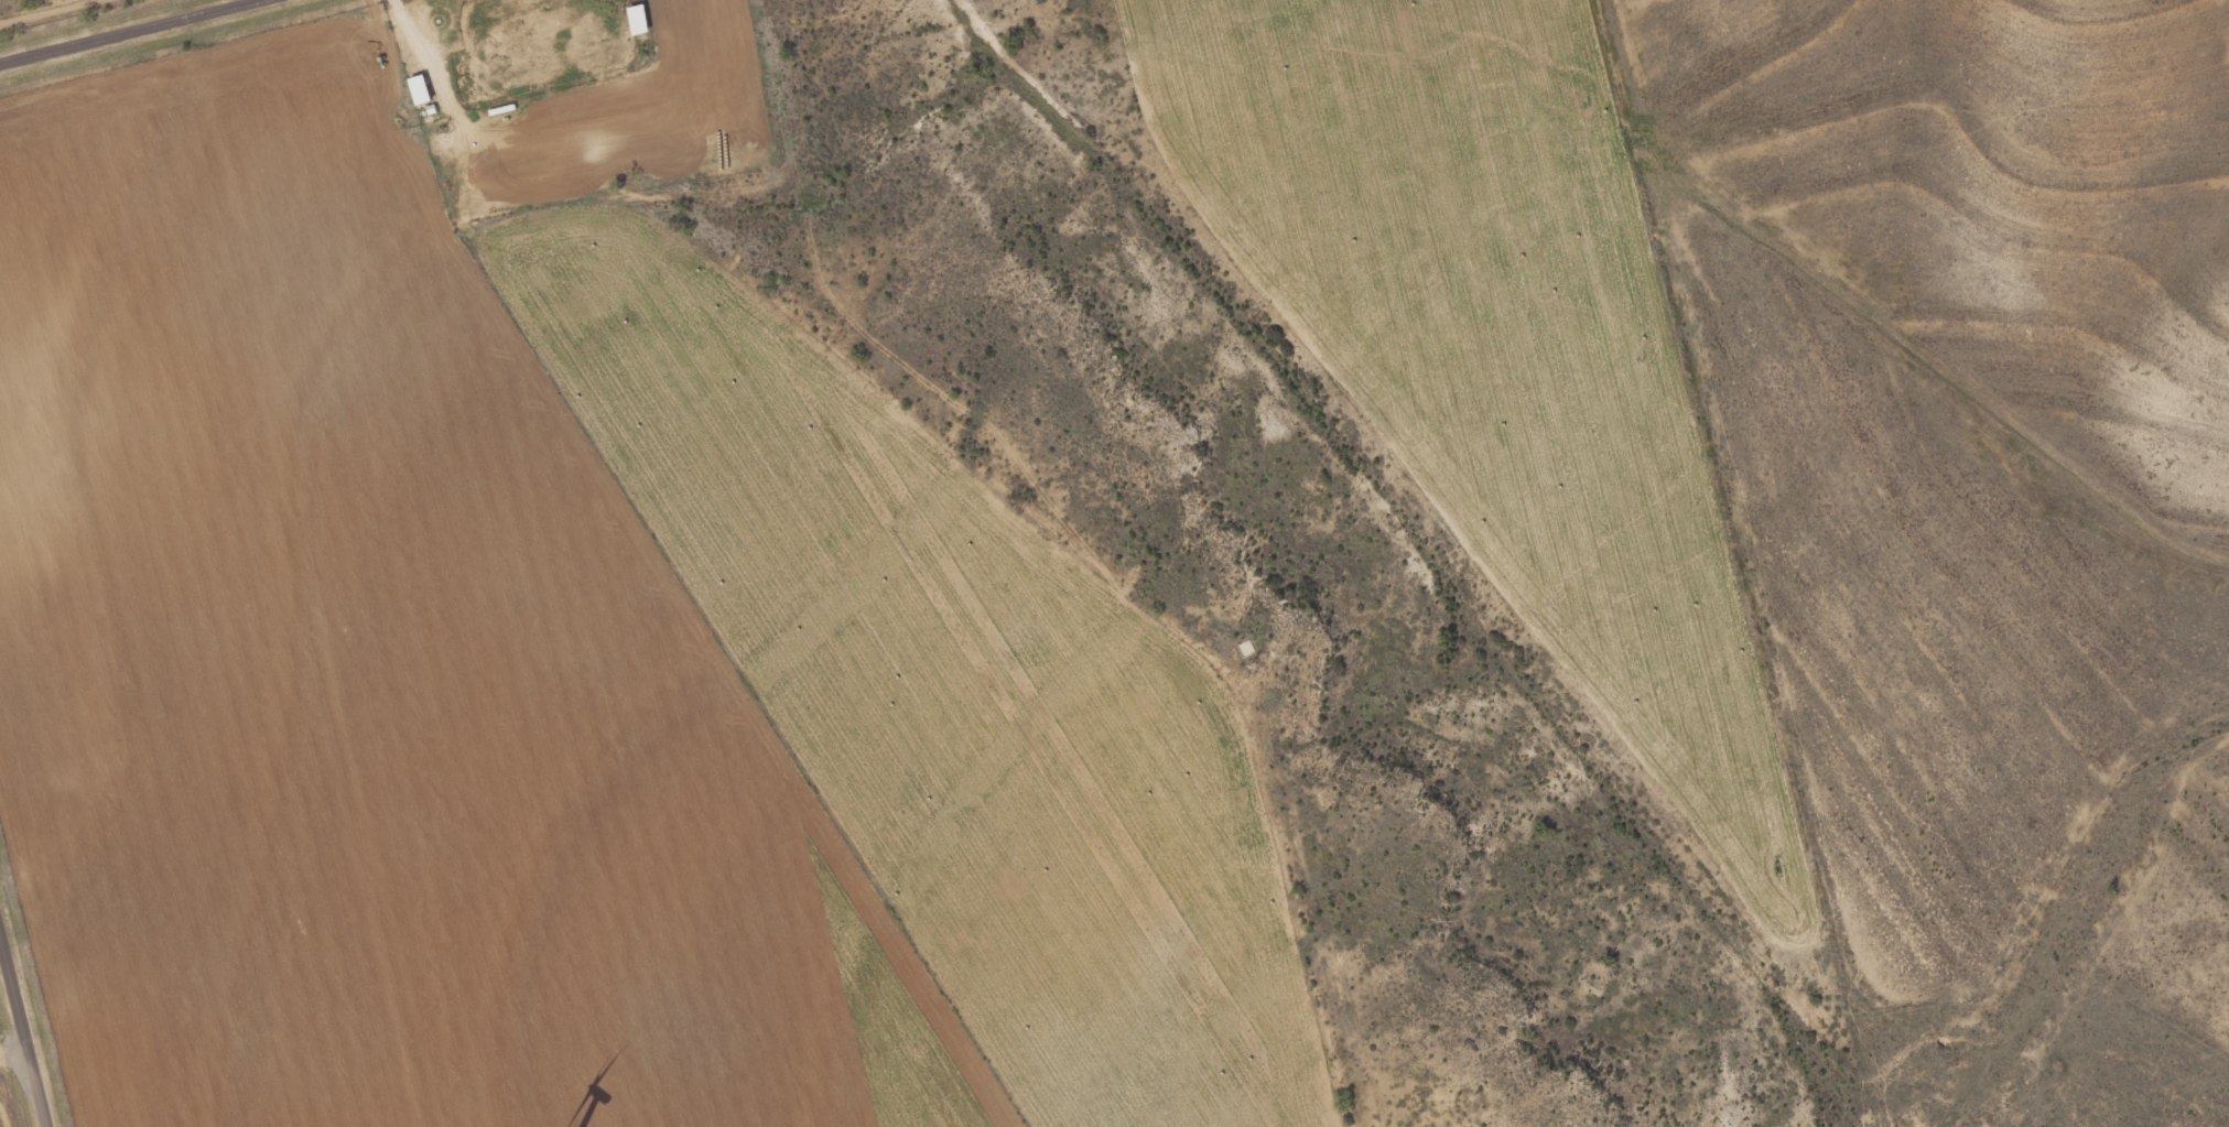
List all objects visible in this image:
building: (638, 19)
road: (122, 30)
building: (420, 89)
road: (25, 1021)

